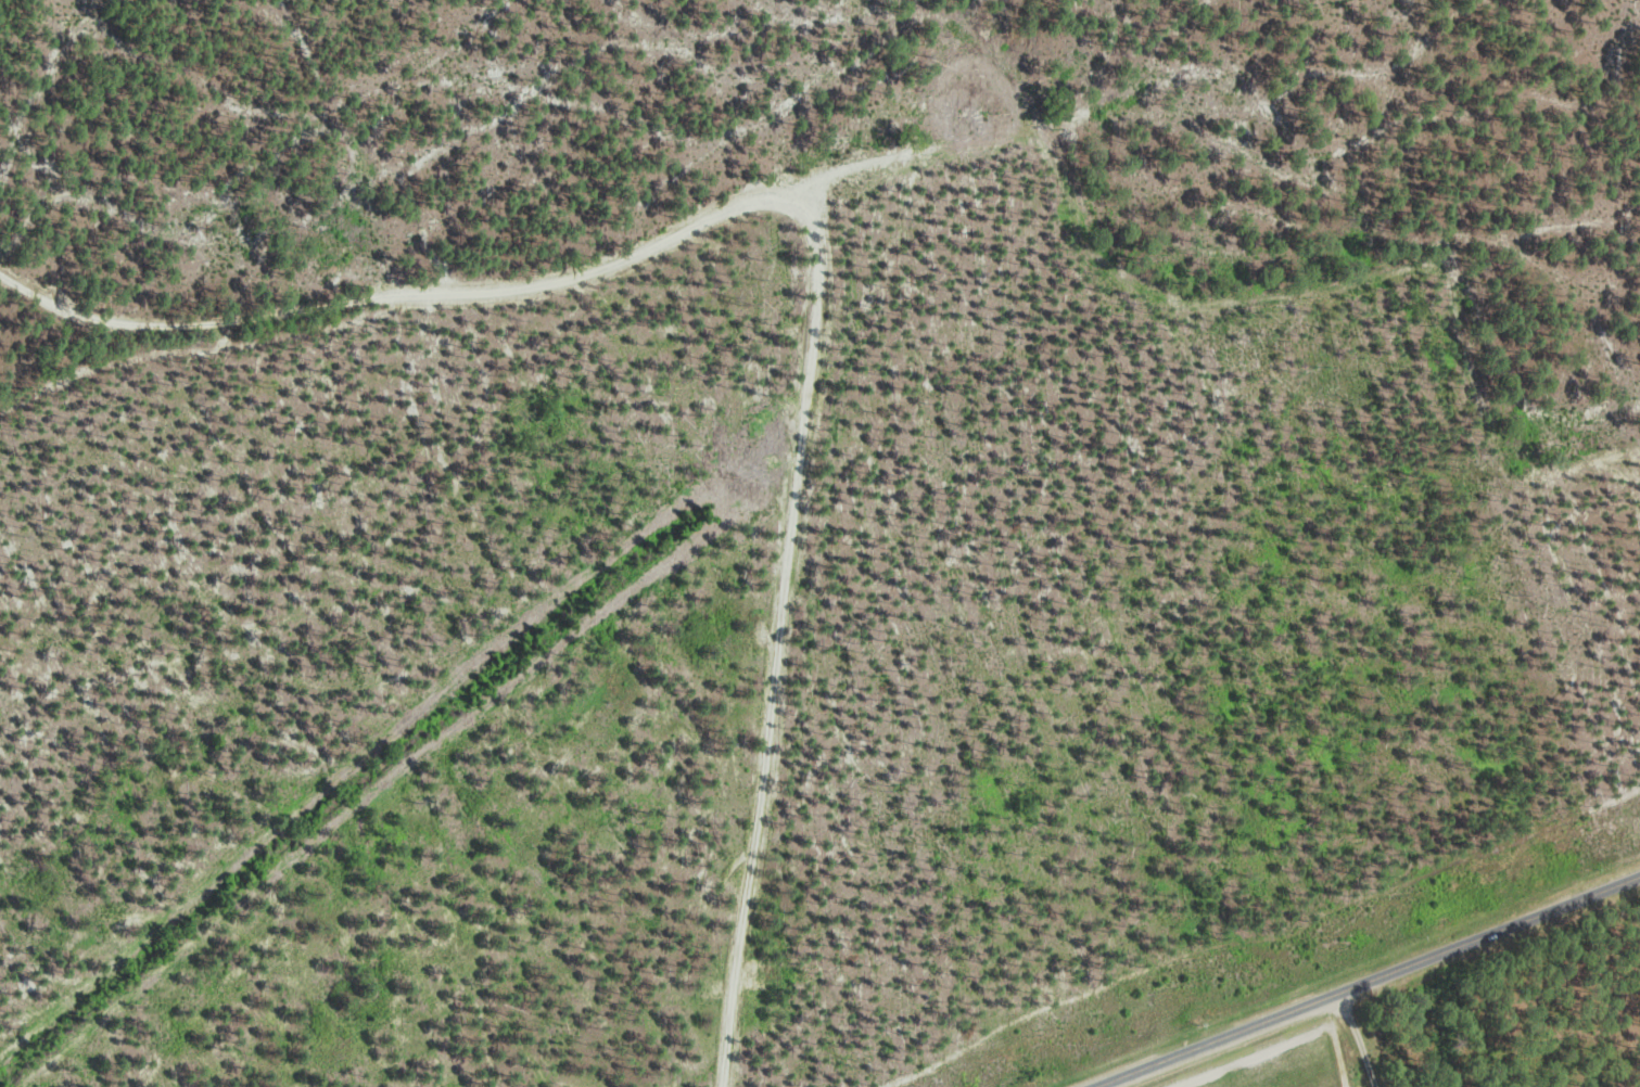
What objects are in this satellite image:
road: (814, 232)
road: (403, 733)
road: (1370, 981)
road: (1357, 1039)

